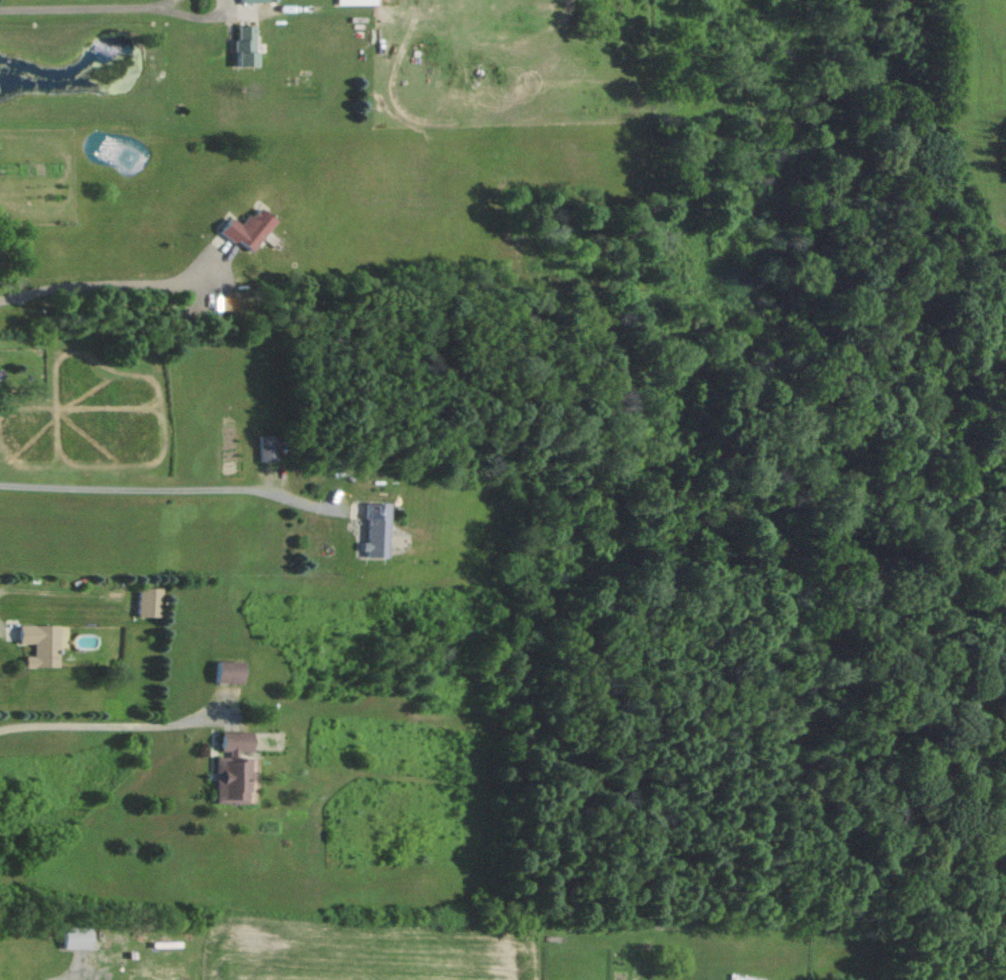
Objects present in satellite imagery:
building: (245, 0)
building: (337, 2)
road: (149, 4)
road: (70, 9)
road: (177, 18)
building: (236, 44)
building: (233, 227)
building: (257, 238)
road: (99, 289)
building: (247, 447)
road: (151, 488)
building: (355, 529)
building: (132, 602)
building: (28, 644)
building: (215, 671)
road: (104, 723)
building: (222, 766)
building: (69, 937)

